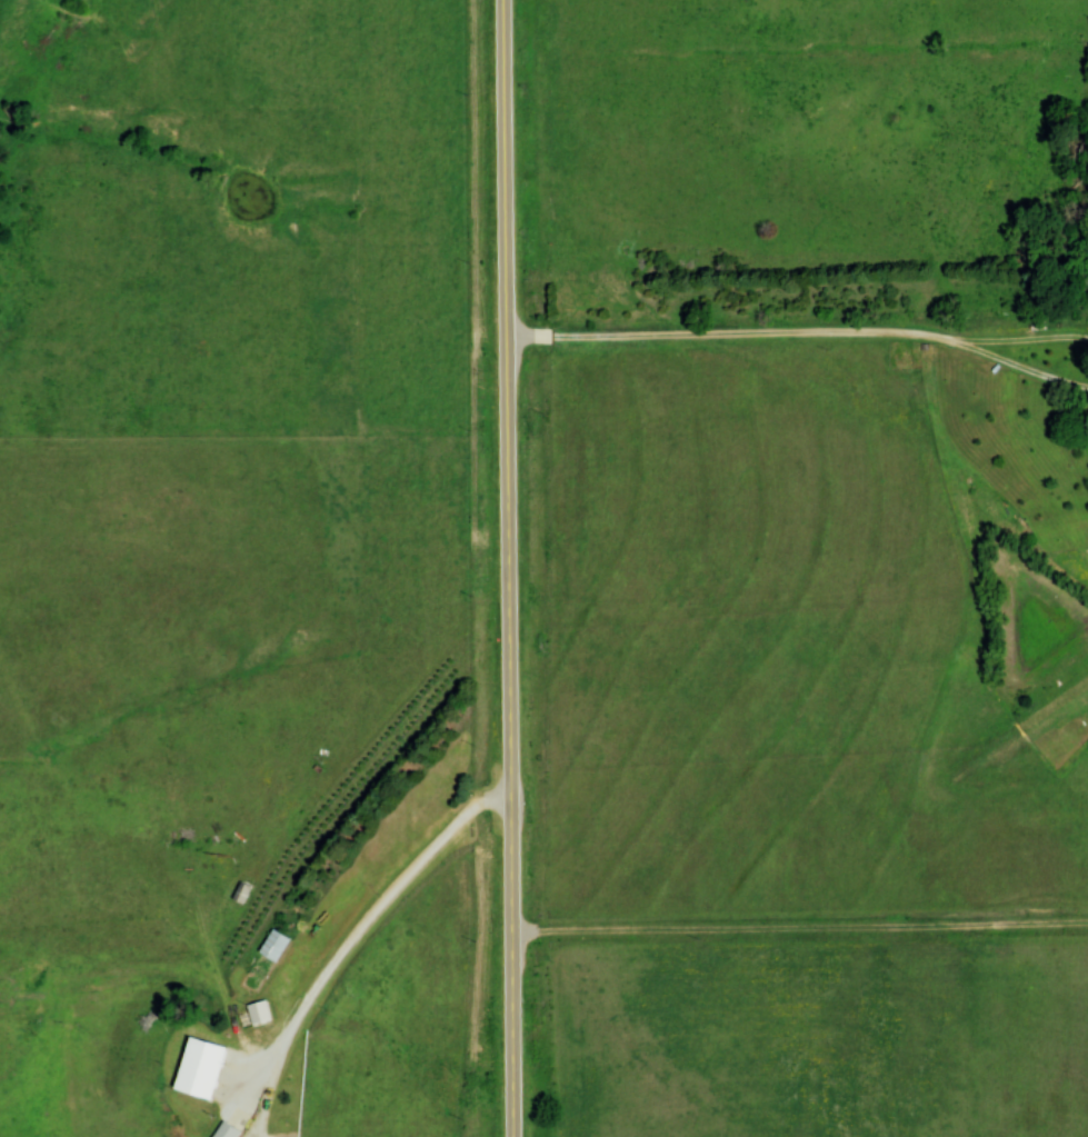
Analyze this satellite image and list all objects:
road: (807, 337)
road: (515, 568)
building: (242, 891)
road: (800, 930)
road: (348, 938)
building: (275, 945)
building: (210, 1061)
building: (228, 1130)

